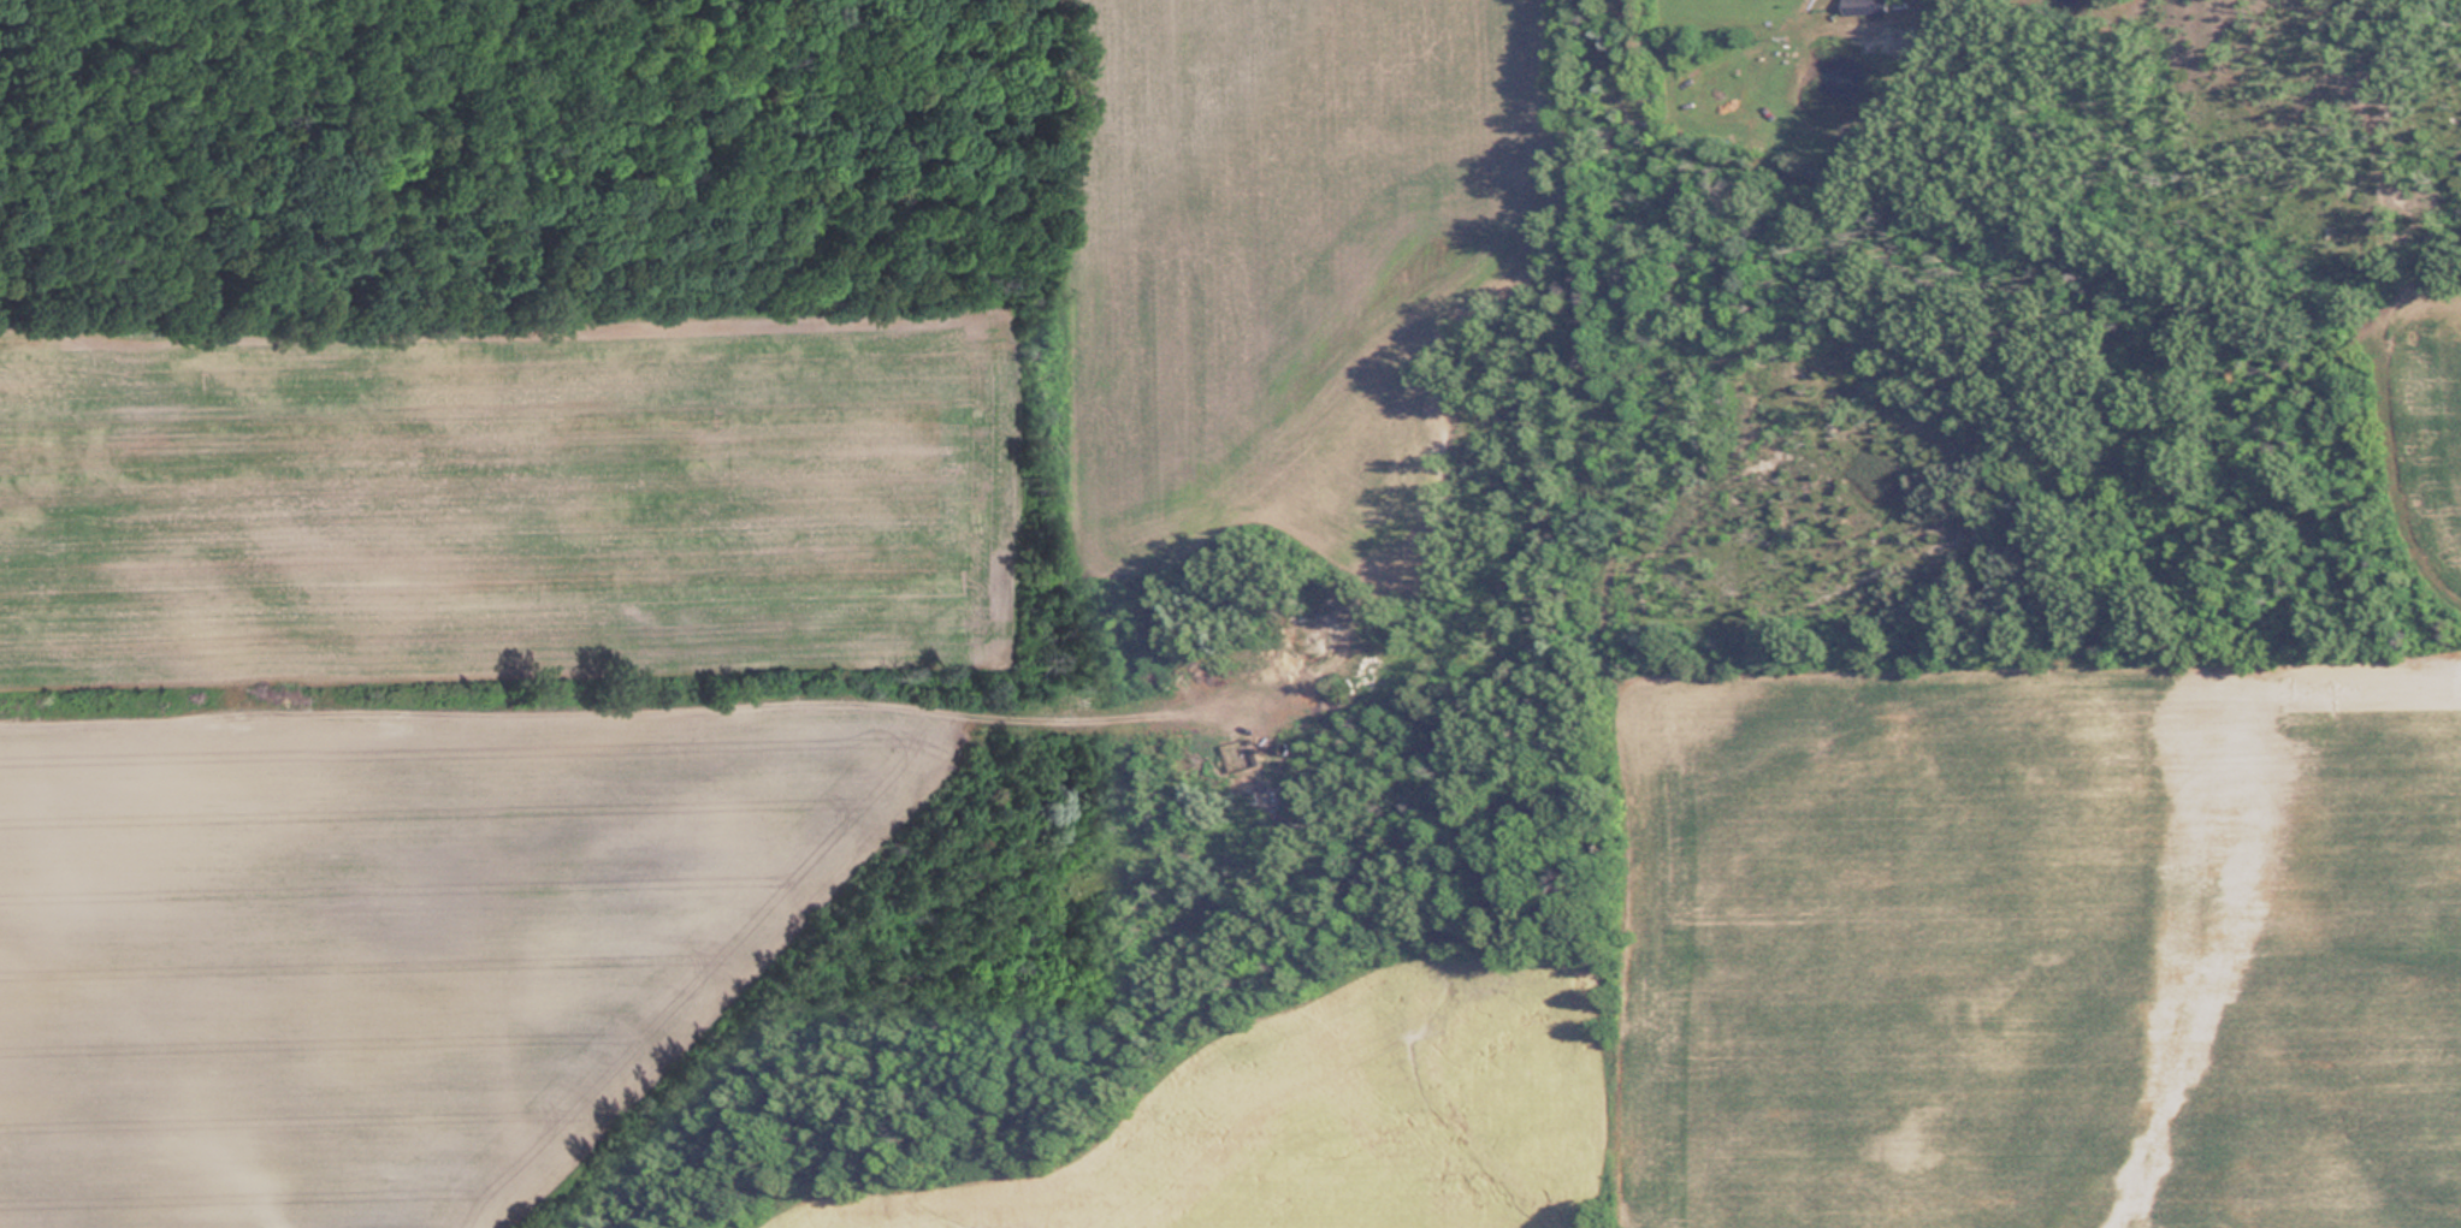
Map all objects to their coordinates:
road: (1895, 101)
road: (501, 717)

